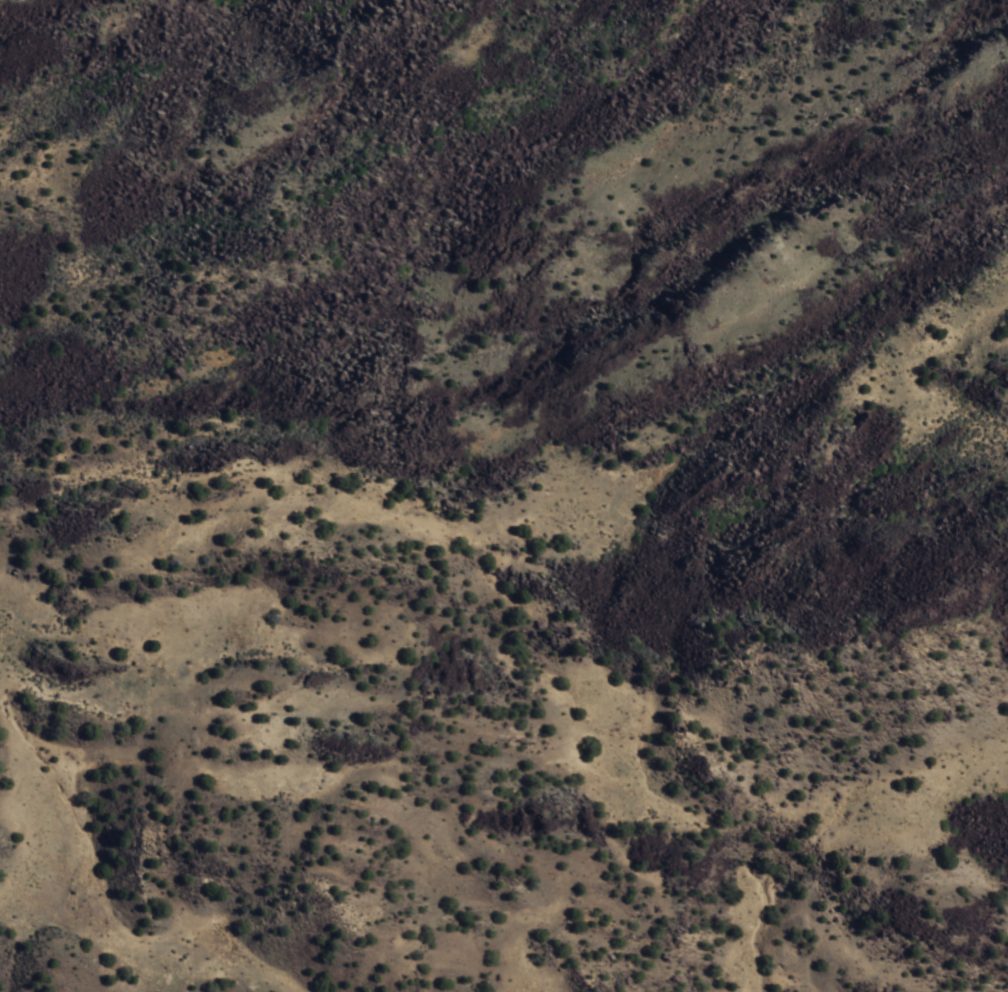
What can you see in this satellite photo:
road: (503, 472)

